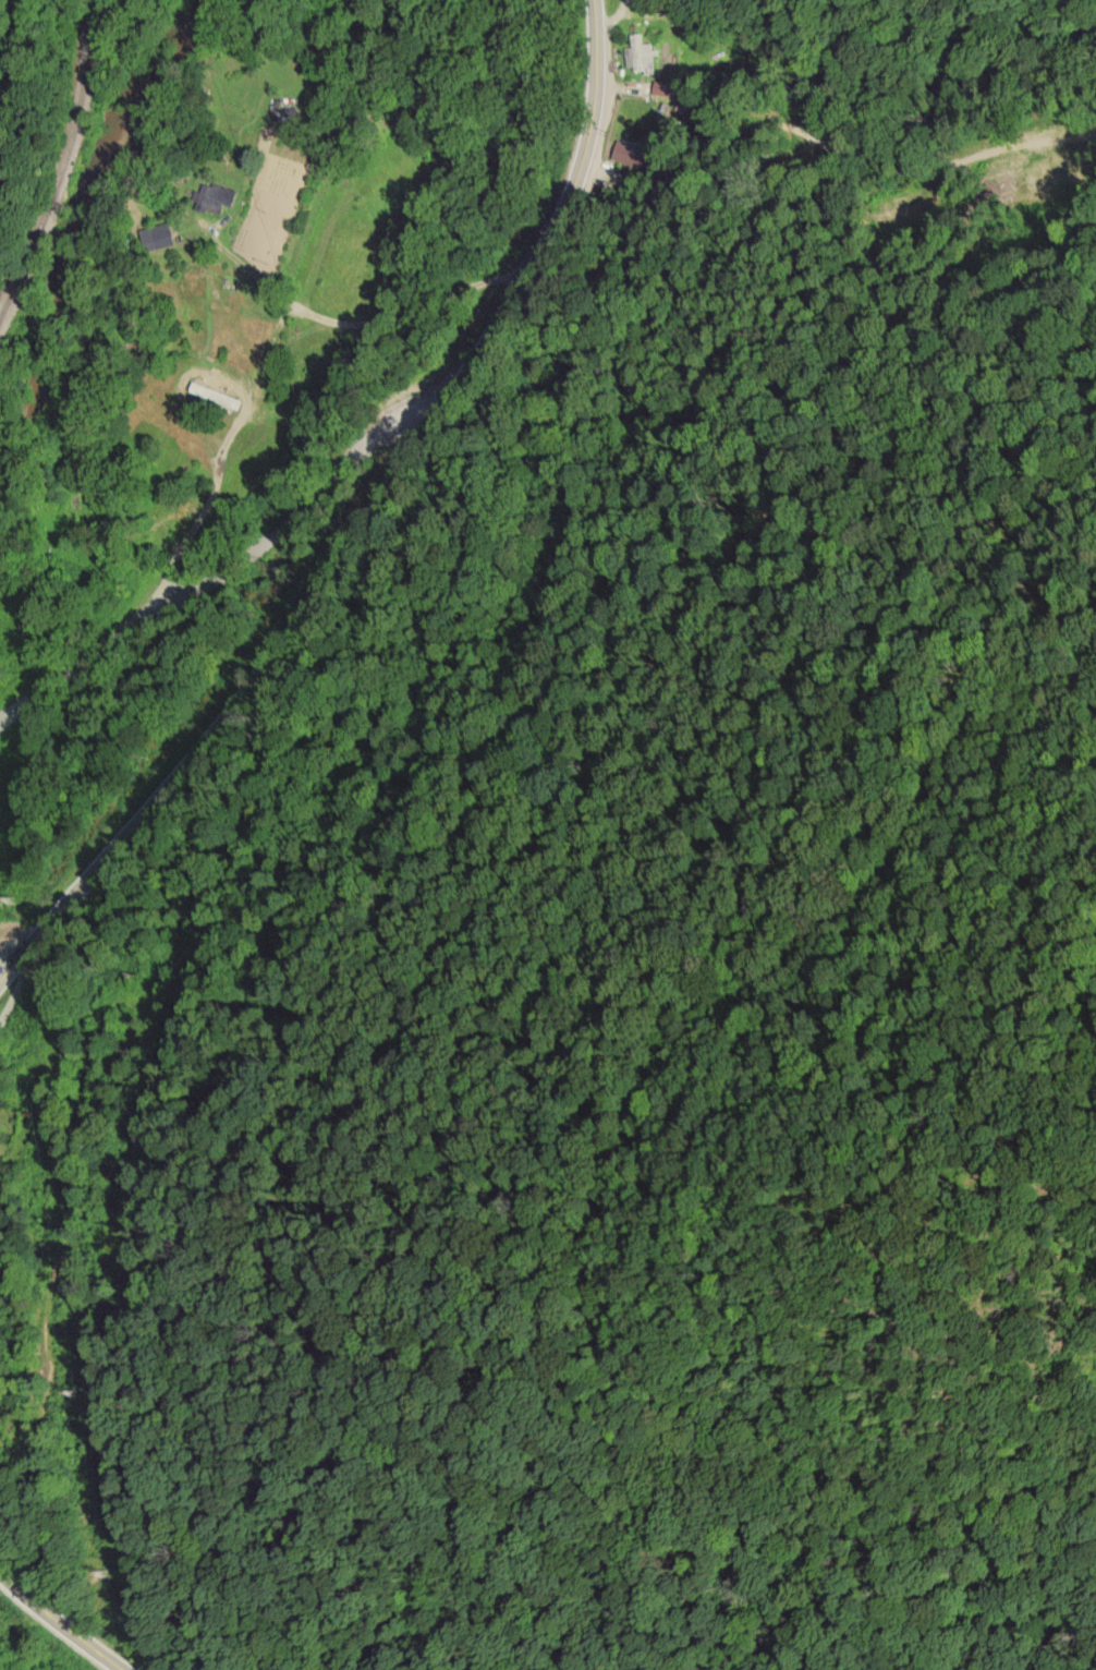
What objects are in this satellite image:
building: (640, 55)
building: (629, 154)
railway: (62, 170)
building: (216, 198)
building: (156, 237)
river: (90, 253)
road: (355, 292)
building: (214, 395)
road: (342, 516)
road: (224, 537)
power tower: (10, 900)
power tower: (71, 1394)
road: (158, 1505)
power tower: (97, 1575)
road: (58, 1619)
river: (4, 1667)

